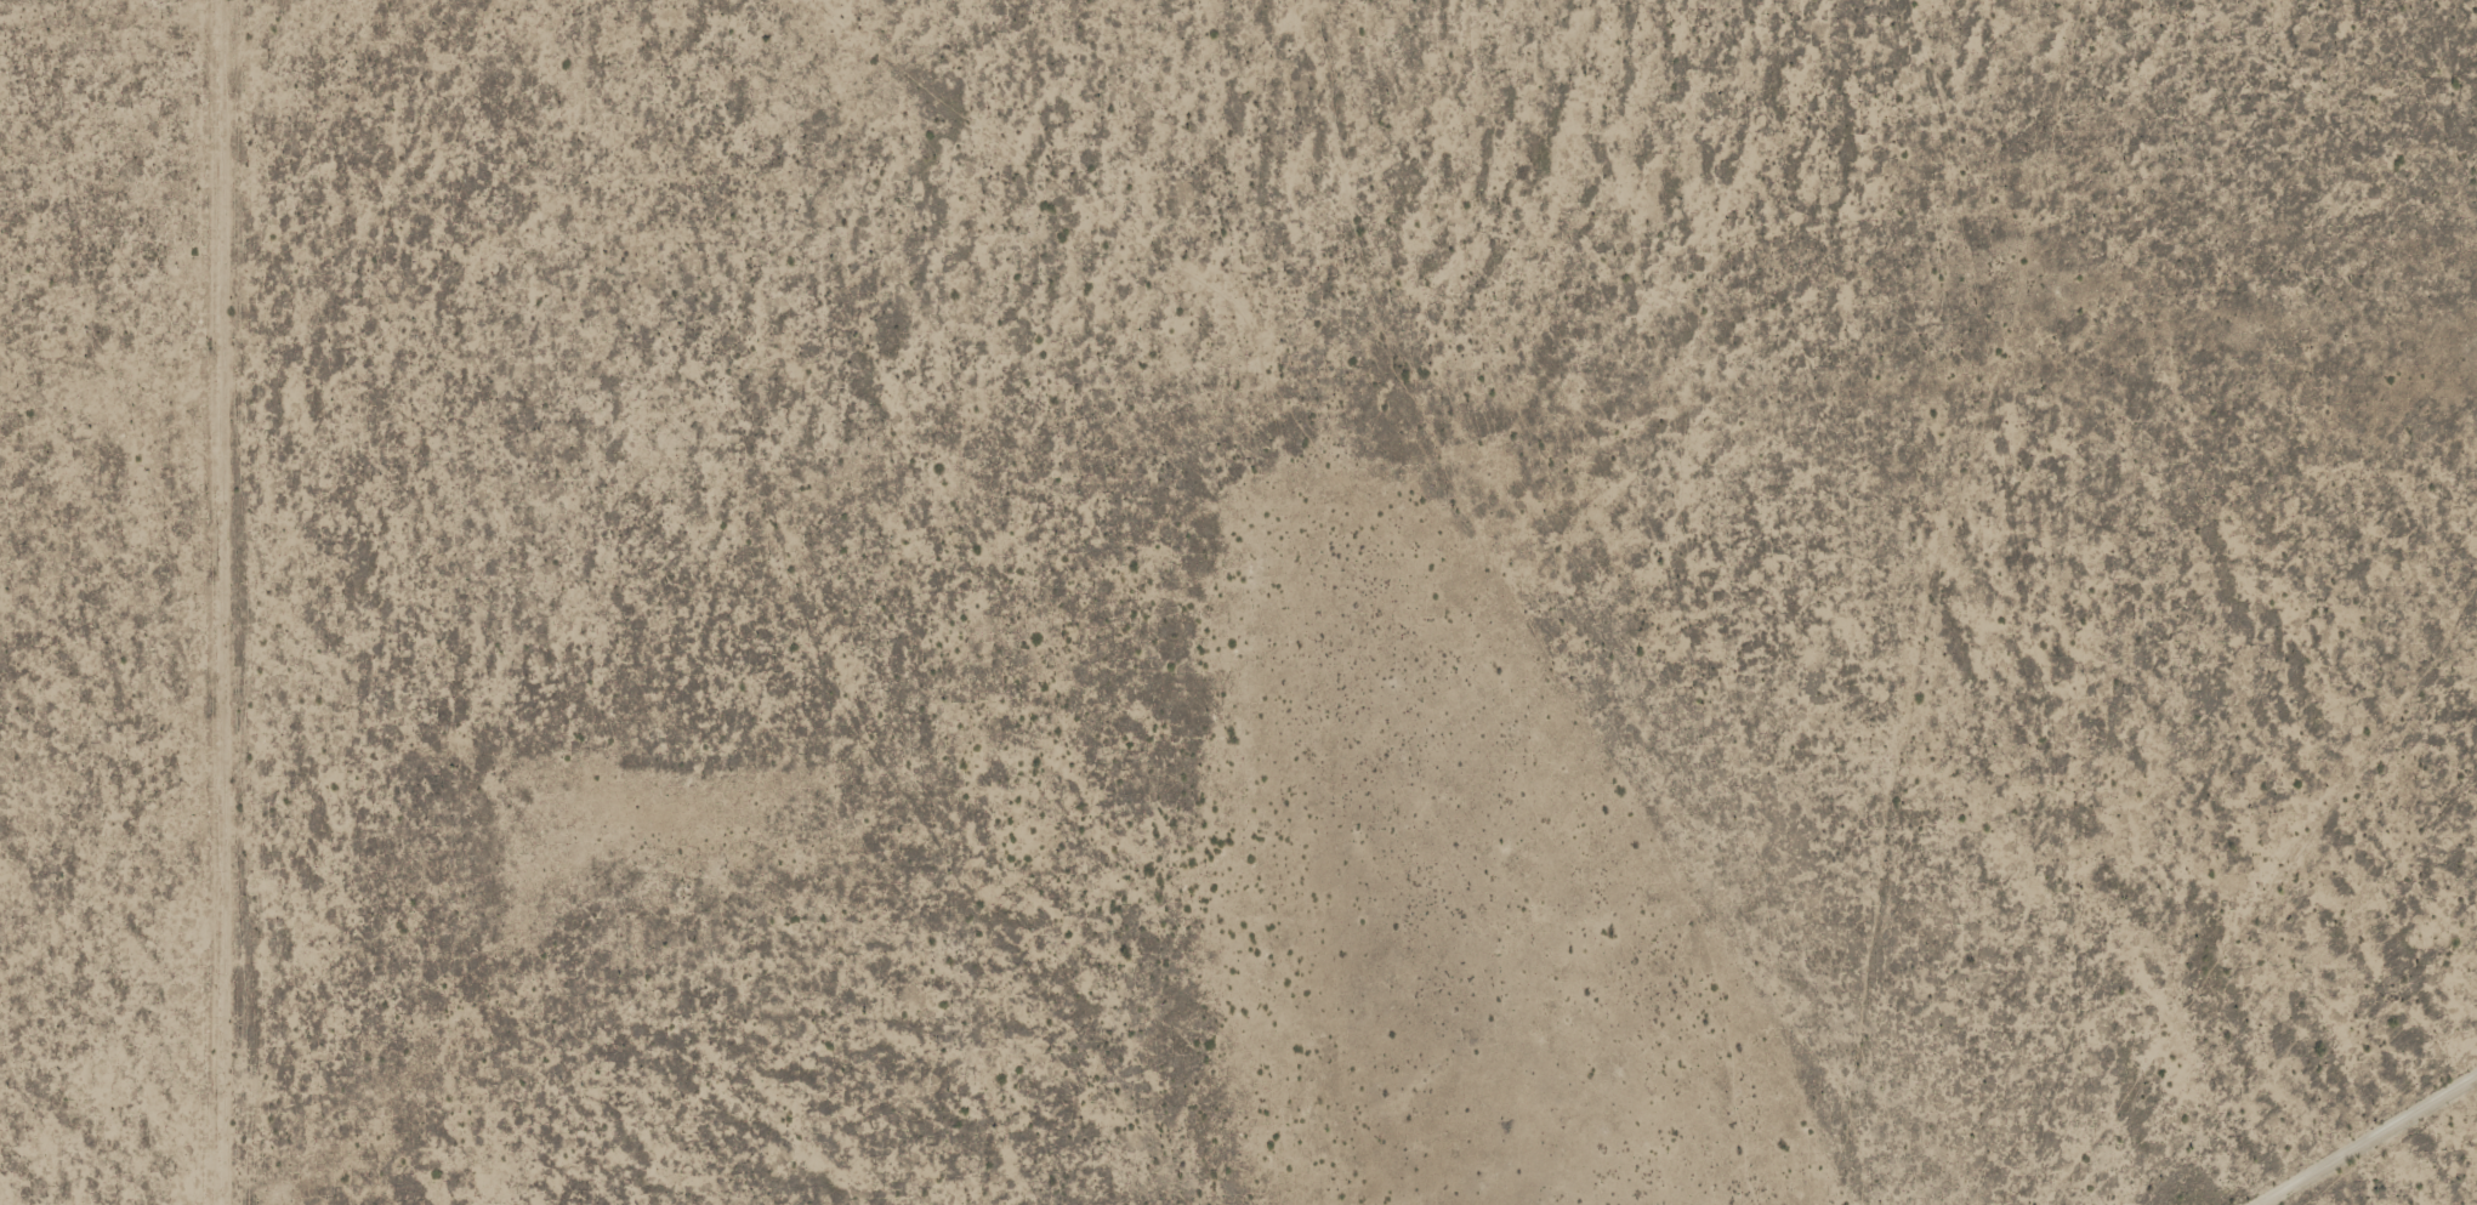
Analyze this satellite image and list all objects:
road: (2396, 1155)

